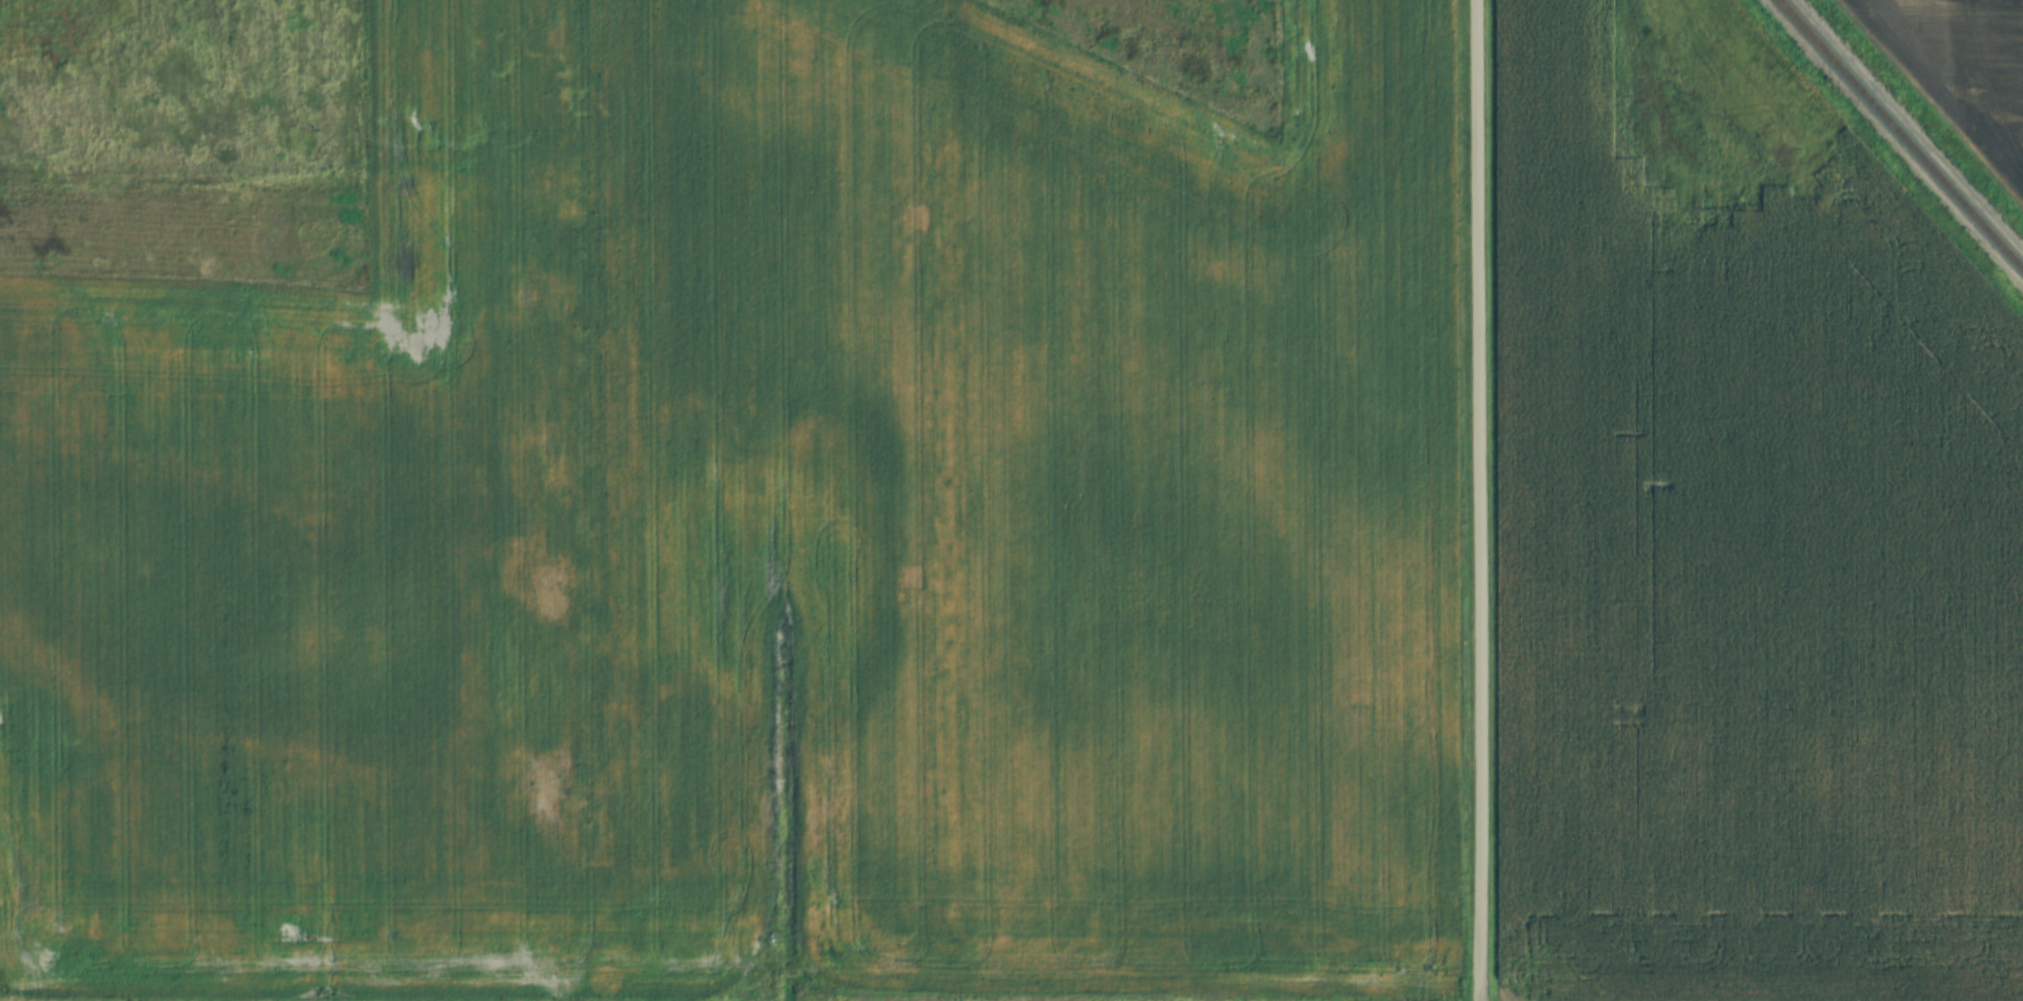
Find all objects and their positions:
railway: (1899, 136)
road: (1484, 500)

